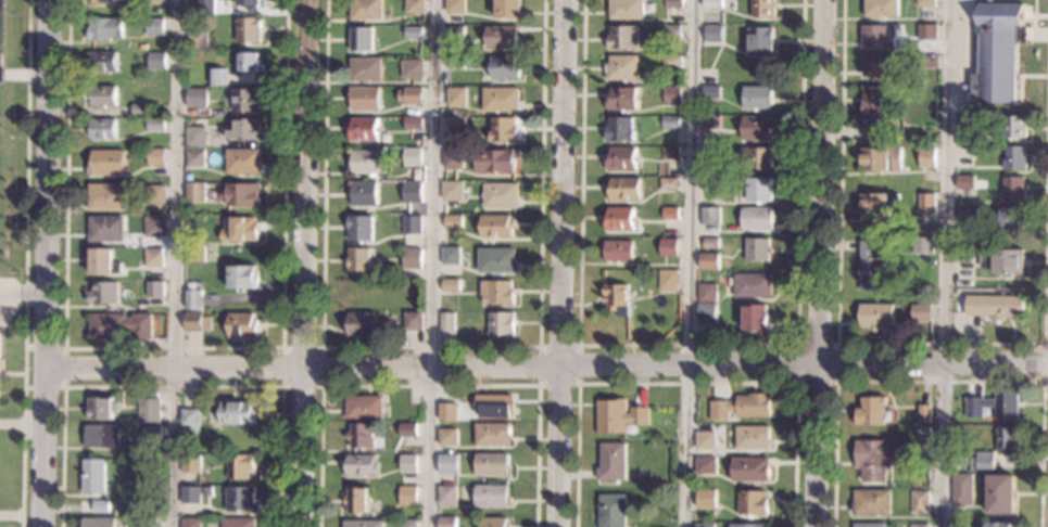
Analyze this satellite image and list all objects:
building: (154, 0)
building: (251, 2)
building: (106, 3)
building: (671, 3)
building: (924, 3)
building: (711, 4)
building: (205, 7)
building: (415, 7)
building: (455, 7)
building: (761, 8)
building: (509, 9)
building: (880, 9)
building: (366, 10)
building: (626, 10)
building: (154, 27)
building: (104, 28)
building: (249, 30)
building: (671, 30)
building: (413, 33)
building: (925, 33)
building: (711, 34)
building: (455, 35)
building: (502, 37)
building: (876, 37)
building: (622, 38)
building: (361, 39)
building: (197, 40)
building: (759, 41)
building: (997, 54)
building: (1, 60)
building: (102, 61)
building: (156, 61)
building: (927, 61)
building: (671, 62)
building: (249, 63)
building: (455, 63)
building: (876, 66)
building: (365, 68)
building: (505, 68)
building: (622, 68)
building: (412, 69)
building: (216, 76)
building: (710, 91)
building: (671, 94)
building: (102, 95)
building: (411, 95)
building: (197, 98)
building: (456, 98)
building: (756, 98)
building: (364, 99)
building: (623, 99)
building: (244, 100)
building: (501, 100)
building: (140, 110)
building: (871, 112)
building: (670, 121)
building: (456, 123)
building: (709, 123)
building: (963, 123)
building: (413, 124)
building: (155, 125)
building: (1012, 127)
building: (101, 128)
building: (756, 128)
building: (242, 129)
building: (503, 129)
building: (618, 129)
building: (363, 130)
building: (195, 137)
building: (669, 153)
building: (709, 155)
building: (155, 157)
building: (412, 157)
building: (925, 157)
building: (1013, 157)
building: (194, 158)
building: (621, 158)
building: (754, 158)
building: (880, 159)
building: (452, 160)
building: (495, 160)
building: (242, 162)
building: (106, 163)
building: (366, 163)
building: (962, 182)
building: (668, 183)
building: (709, 183)
building: (1011, 188)
building: (623, 189)
building: (757, 190)
building: (451, 191)
building: (194, 192)
building: (362, 193)
building: (411, 193)
building: (239, 194)
building: (153, 195)
building: (501, 195)
building: (105, 196)
building: (925, 203)
building: (871, 205)
building: (964, 210)
building: (670, 214)
building: (709, 216)
building: (619, 218)
building: (1011, 218)
building: (756, 219)
building: (452, 221)
building: (412, 224)
building: (496, 226)
building: (153, 227)
building: (105, 229)
building: (359, 229)
building: (239, 230)
building: (709, 243)
building: (921, 244)
building: (669, 247)
building: (757, 249)
building: (618, 252)
building: (962, 253)
building: (193, 254)
building: (450, 256)
building: (152, 258)
building: (411, 259)
building: (358, 260)
building: (496, 261)
building: (708, 261)
building: (1000, 261)
road: (173, 262)
road: (302, 262)
road: (24, 263)
road: (45, 263)
building: (102, 263)
road: (430, 263)
road: (561, 263)
road: (691, 263)
road: (816, 263)
road: (945, 263)
building: (869, 268)
building: (242, 278)
building: (668, 280)
building: (451, 285)
building: (752, 285)
building: (153, 290)
building: (706, 292)
building: (101, 293)
building: (496, 293)
road: (22, 294)
building: (616, 298)
building: (191, 299)
building: (993, 306)
building: (920, 312)
building: (706, 313)
building: (874, 317)
building: (756, 319)
building: (195, 321)
building: (412, 321)
building: (446, 322)
building: (361, 323)
building: (501, 324)
building: (118, 326)
building: (242, 326)
road: (686, 345)
road: (925, 345)
road: (428, 347)
road: (172, 348)
traffic signals: (1036, 361)
road: (1043, 362)
road: (545, 363)
building: (872, 364)
road: (63, 368)
road: (939, 380)
road: (833, 381)
road: (577, 384)
road: (687, 384)
road: (318, 386)
road: (428, 386)
road: (171, 388)
building: (993, 406)
building: (361, 407)
building: (494, 407)
building: (742, 407)
building: (99, 409)
building: (146, 411)
building: (446, 412)
building: (871, 412)
building: (236, 413)
building: (922, 413)
building: (619, 416)
building: (190, 422)
road: (11, 423)
building: (407, 430)
building: (151, 433)
building: (492, 435)
building: (101, 436)
building: (359, 436)
building: (446, 437)
building: (753, 438)
building: (705, 440)
building: (1006, 441)
building: (877, 458)
building: (613, 462)
building: (407, 463)
building: (984, 463)
building: (189, 464)
building: (361, 464)
building: (447, 464)
building: (238, 465)
building: (490, 465)
building: (706, 465)
building: (750, 470)
building: (92, 476)
building: (961, 489)
building: (189, 494)
building: (1000, 494)
building: (445, 496)
building: (490, 496)
building: (406, 497)
building: (239, 498)
building: (706, 499)
building: (356, 500)
building: (919, 502)
building: (753, 503)
building: (871, 503)
building: (100, 507)
building: (611, 510)
road: (10, 515)
building: (98, 522)
building: (446, 522)
building: (147, 523)
building: (189, 523)
building: (237, 523)
building: (362, 523)
building: (407, 523)
building: (494, 523)
building: (704, 525)
building: (869, 525)
building: (1000, 525)
building: (749, 526)
building: (918, 526)

